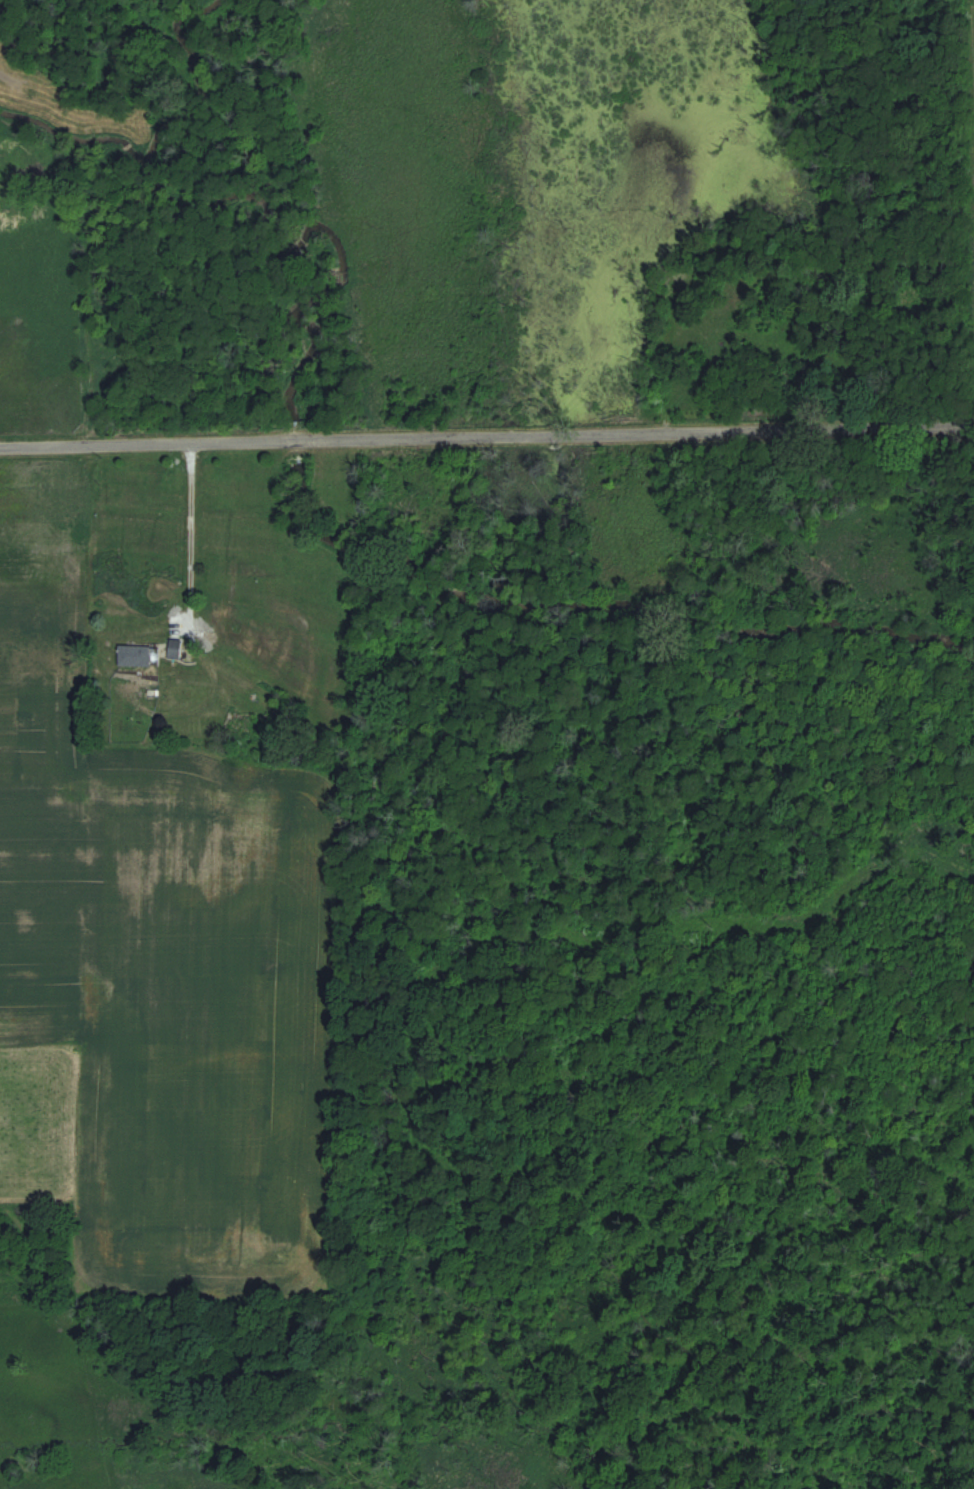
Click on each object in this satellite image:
road: (487, 437)
road: (188, 545)
building: (174, 648)

